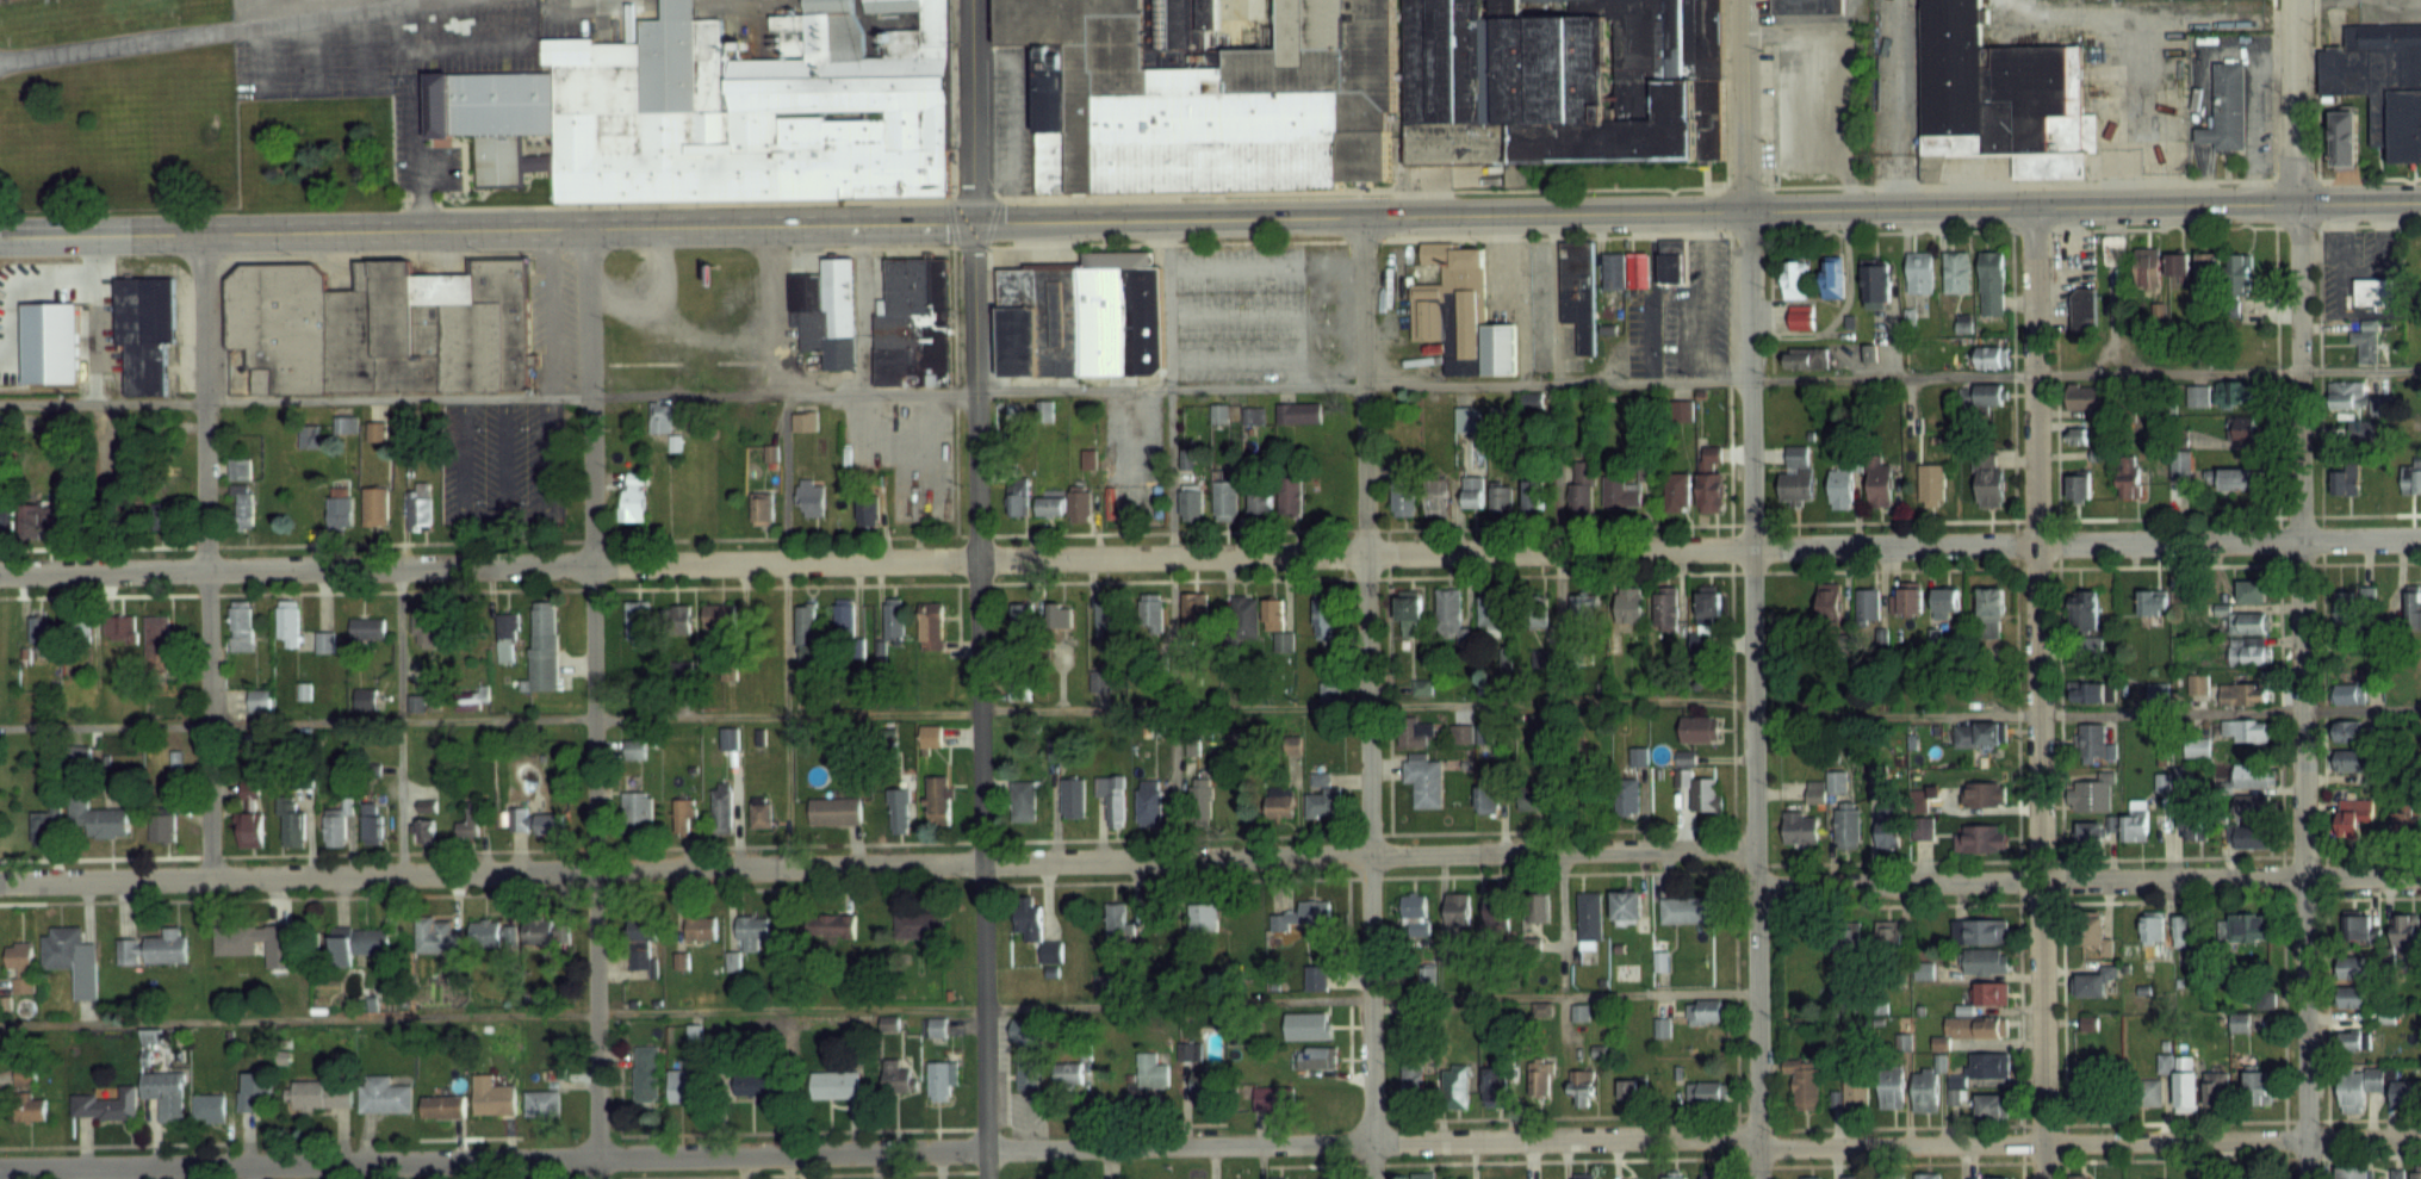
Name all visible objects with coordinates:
road: (2320, 1)
building: (1802, 5)
road: (2056, 12)
road: (209, 30)
building: (1560, 80)
building: (2382, 82)
building: (1203, 95)
building: (1998, 95)
road: (1905, 104)
building: (2224, 107)
road: (970, 110)
building: (715, 112)
building: (2345, 139)
road: (1708, 186)
road: (970, 198)
road: (1210, 218)
traffic signals: (969, 221)
road: (987, 221)
road: (949, 222)
road: (1626, 235)
building: (1669, 260)
building: (2208, 263)
building: (1956, 265)
building: (2178, 266)
building: (1610, 269)
building: (1634, 269)
building: (2148, 269)
building: (1919, 272)
building: (2240, 272)
building: (1833, 274)
building: (1796, 279)
building: (1875, 281)
building: (1991, 283)
building: (1575, 290)
road: (17, 291)
building: (2372, 291)
road: (1769, 305)
building: (2080, 306)
building: (822, 310)
road: (551, 312)
building: (1458, 314)
building: (1801, 316)
building: (1078, 317)
road: (91, 321)
building: (910, 324)
building: (373, 328)
building: (142, 330)
building: (2366, 341)
building: (48, 342)
building: (1992, 355)
building: (1805, 358)
road: (1210, 386)
road: (952, 390)
building: (2236, 391)
building: (2346, 393)
building: (1989, 395)
building: (2198, 395)
building: (2084, 397)
building: (1531, 401)
building: (1218, 412)
building: (1299, 412)
building: (1253, 415)
building: (660, 417)
building: (1466, 420)
building: (803, 421)
building: (347, 424)
building: (2241, 429)
building: (2363, 430)
building: (374, 432)
parking lot: (498, 461)
building: (2180, 461)
building: (240, 467)
road: (542, 476)
building: (2128, 477)
building: (1709, 478)
building: (1796, 478)
building: (2237, 478)
building: (2347, 480)
building: (1988, 482)
building: (2079, 485)
building: (1879, 486)
building: (1840, 488)
building: (1472, 491)
building: (1620, 491)
building: (1677, 491)
building: (1531, 495)
building: (1579, 495)
building: (632, 496)
building: (809, 496)
building: (1290, 496)
building: (1403, 496)
building: (1435, 496)
building: (1224, 497)
building: (1500, 497)
building: (1018, 498)
building: (1260, 499)
building: (1191, 501)
building: (1080, 504)
building: (418, 505)
building: (1050, 505)
building: (244, 507)
building: (374, 507)
building: (339, 508)
building: (762, 508)
building: (867, 511)
building: (6, 513)
building: (36, 514)
road: (480, 514)
road: (1210, 530)
road: (1172, 539)
road: (787, 545)
road: (1210, 554)
road: (206, 557)
road: (1210, 578)
road: (1750, 589)
road: (2302, 589)
building: (2253, 590)
building: (1910, 597)
building: (1829, 601)
building: (1944, 602)
building: (1991, 602)
building: (2153, 602)
road: (1558, 604)
building: (1628, 604)
building: (1707, 606)
building: (1867, 606)
building: (2413, 606)
building: (1583, 607)
building: (1665, 608)
building: (2346, 608)
building: (1490, 609)
building: (2084, 609)
building: (1193, 610)
building: (1150, 612)
building: (1532, 612)
building: (1447, 613)
building: (718, 614)
building: (843, 614)
building: (1323, 614)
building: (1020, 615)
building: (1409, 615)
building: (1061, 616)
building: (1243, 616)
building: (1106, 618)
building: (676, 619)
building: (893, 620)
building: (287, 621)
building: (637, 621)
building: (2249, 622)
building: (1277, 623)
building: (241, 625)
building: (423, 626)
building: (805, 626)
building: (931, 626)
building: (119, 627)
building: (37, 628)
building: (365, 628)
road: (1342, 635)
building: (507, 637)
building: (156, 639)
building: (323, 641)
building: (542, 646)
building: (2249, 651)
road: (1385, 680)
building: (2197, 683)
building: (2092, 690)
road: (2037, 691)
building: (2156, 691)
building: (2242, 693)
building: (2348, 693)
road: (1364, 697)
building: (365, 699)
road: (976, 699)
road: (590, 702)
road: (2277, 702)
road: (2320, 702)
road: (2013, 703)
road: (2056, 703)
road: (1211, 706)
road: (1730, 706)
road: (402, 720)
building: (1699, 728)
building: (2243, 730)
building: (2351, 731)
building: (1415, 732)
building: (1460, 732)
building: (1978, 734)
building: (930, 736)
building: (728, 738)
building: (2092, 741)
building: (1293, 745)
building: (634, 749)
building: (1638, 755)
building: (2347, 761)
building: (2254, 775)
building: (1423, 778)
building: (1705, 793)
building: (1813, 793)
building: (2091, 793)
building: (1200, 794)
building: (1627, 795)
building: (1072, 796)
building: (1535, 796)
building: (1024, 798)
building: (1111, 798)
building: (1322, 799)
building: (1485, 799)
building: (938, 800)
building: (1148, 801)
building: (721, 806)
building: (899, 806)
building: (1279, 806)
building: (2251, 807)
building: (834, 811)
building: (635, 812)
building: (761, 812)
building: (683, 814)
building: (2352, 815)
building: (1924, 818)
building: (98, 819)
building: (2135, 819)
building: (517, 820)
building: (2406, 820)
building: (162, 824)
building: (250, 824)
building: (371, 824)
building: (470, 824)
building: (547, 824)
building: (42, 825)
building: (291, 825)
building: (1846, 827)
building: (1801, 829)
building: (334, 830)
building: (423, 830)
building: (1887, 831)
building: (2091, 832)
building: (2251, 837)
building: (1982, 839)
road: (865, 843)
road: (2094, 857)
road: (882, 864)
road: (1355, 876)
road: (2085, 880)
road: (392, 894)
road: (2093, 901)
building: (1497, 905)
building: (1538, 906)
building: (1457, 907)
building: (1629, 907)
building: (1687, 910)
building: (1414, 913)
building: (1204, 917)
building: (1304, 917)
building: (1118, 920)
building: (1588, 920)
building: (830, 924)
building: (1030, 924)
building: (919, 925)
building: (700, 926)
building: (2247, 926)
building: (645, 927)
building: (2365, 929)
building: (2184, 930)
building: (2404, 931)
building: (542, 932)
building: (1980, 932)
building: (2094, 932)
building: (751, 933)
building: (492, 935)
building: (2153, 935)
building: (1888, 936)
building: (244, 937)
building: (437, 937)
building: (359, 941)
building: (1849, 942)
building: (160, 947)
building: (643, 957)
building: (72, 958)
building: (1986, 962)
building: (21, 964)
building: (2353, 967)
building: (1625, 970)
building: (1315, 978)
building: (2092, 985)
building: (2264, 993)
building: (1989, 994)
building: (2352, 998)
road: (879, 1007)
building: (1703, 1011)
building: (1308, 1024)
building: (935, 1026)
building: (1969, 1031)
building: (2353, 1041)
building: (1026, 1049)
parking lot: (998, 1051)
building: (1318, 1056)
building: (1194, 1067)
building: (1988, 1067)
building: (1148, 1068)
road: (616, 1072)
building: (1069, 1072)
building: (645, 1073)
building: (896, 1078)
building: (1411, 1078)
building: (1540, 1079)
building: (941, 1081)
building: (2092, 1084)
building: (684, 1085)
building: (751, 1085)
building: (836, 1085)
building: (257, 1086)
building: (1455, 1086)
building: (1494, 1086)
building: (1804, 1086)
building: (1581, 1087)
building: (1632, 1087)
building: (1891, 1087)
building: (2216, 1087)
building: (2258, 1087)
building: (2358, 1088)
building: (1925, 1090)
building: (1854, 1091)
building: (2185, 1091)
building: (1706, 1092)
building: (2147, 1092)
building: (2407, 1092)
building: (166, 1094)
building: (318, 1096)
building: (383, 1096)
building: (491, 1097)
building: (1272, 1097)
building: (541, 1103)
building: (107, 1106)
building: (210, 1106)
building: (1992, 1106)
building: (442, 1107)
building: (30, 1109)
road: (1026, 1121)
road: (800, 1130)
road: (2088, 1142)
road: (110, 1143)
road: (879, 1149)
road: (1566, 1158)
road: (324, 1169)
building: (2355, 1171)
building: (2416, 1172)
road: (801, 1174)
building: (1422, 1175)
building: (1584, 1175)
building: (1928, 1175)
building: (1674, 1177)
building: (1713, 1177)
building: (2081, 1177)
road: (554, 1178)
road: (619, 1178)
building: (1809, 1178)
building: (1851, 1178)
building: (1989, 1178)

